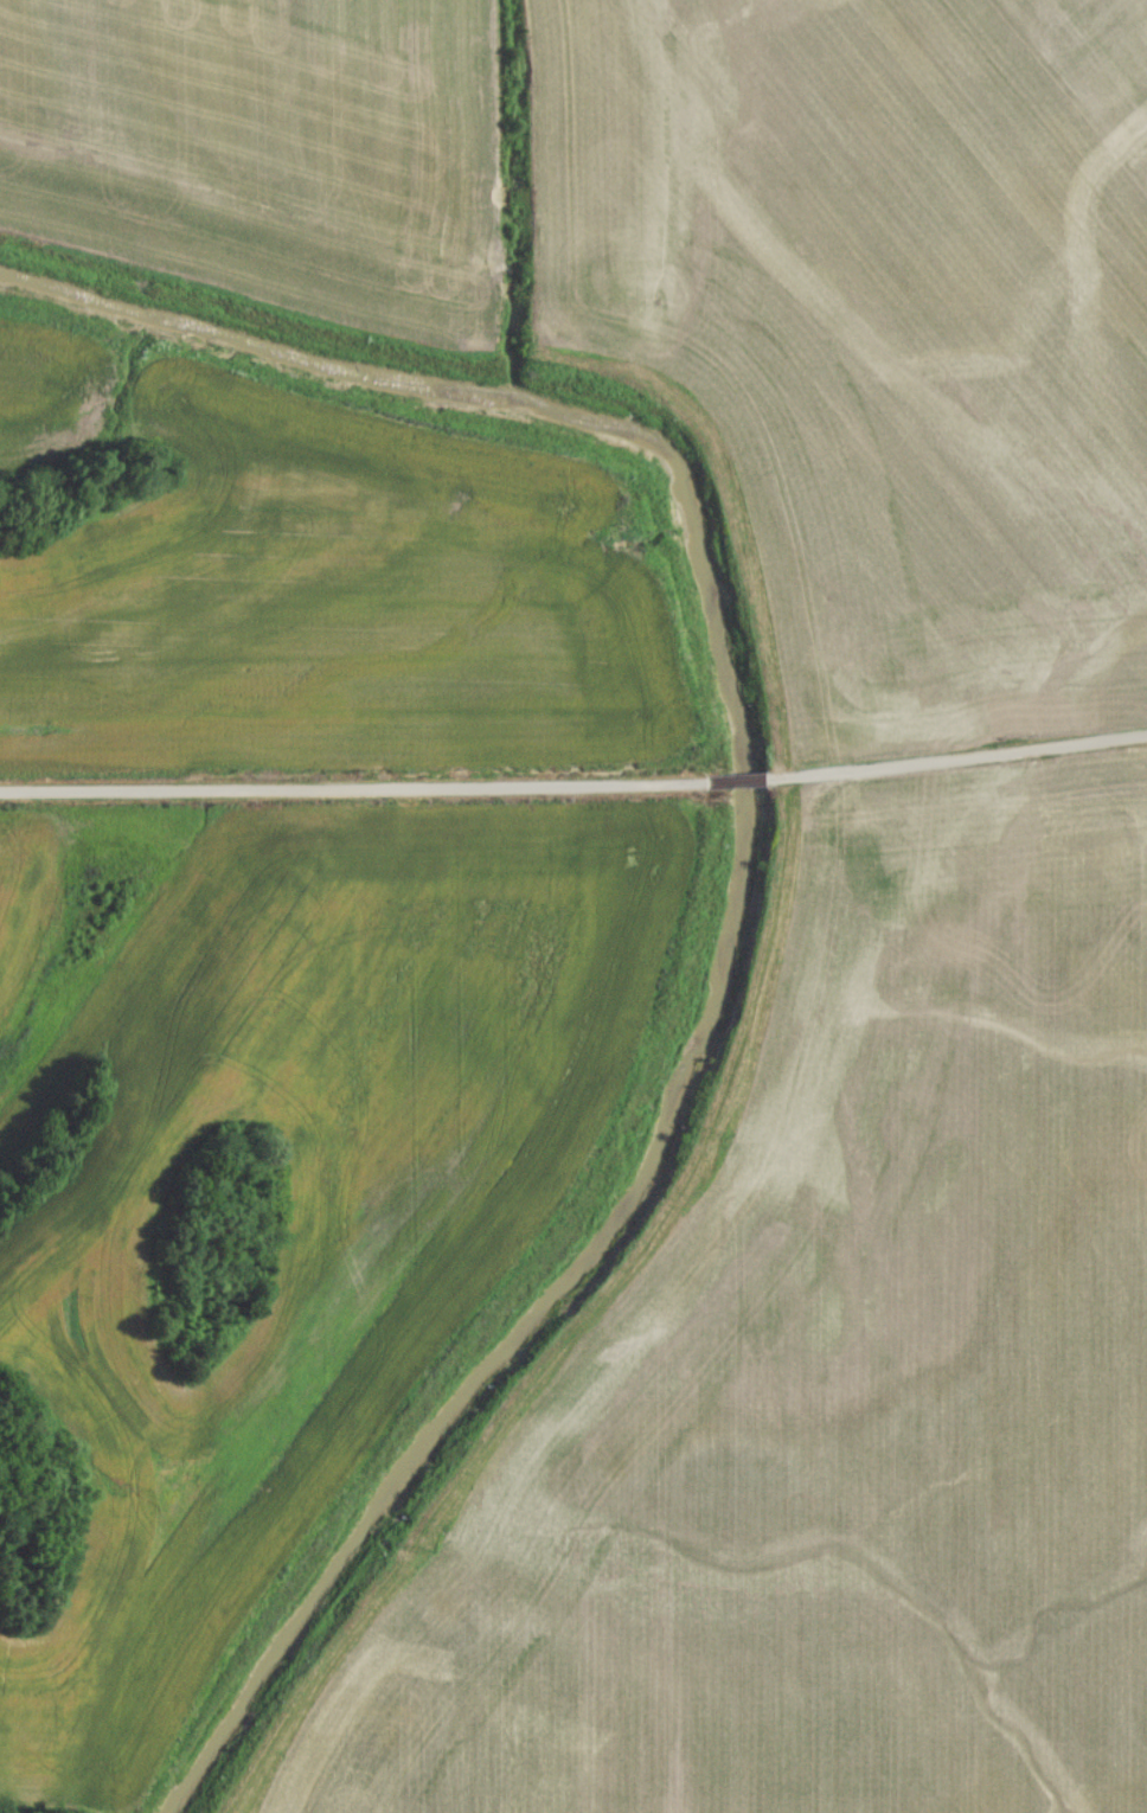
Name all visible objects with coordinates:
road: (947, 763)
road: (373, 793)
building: (1135, 865)

